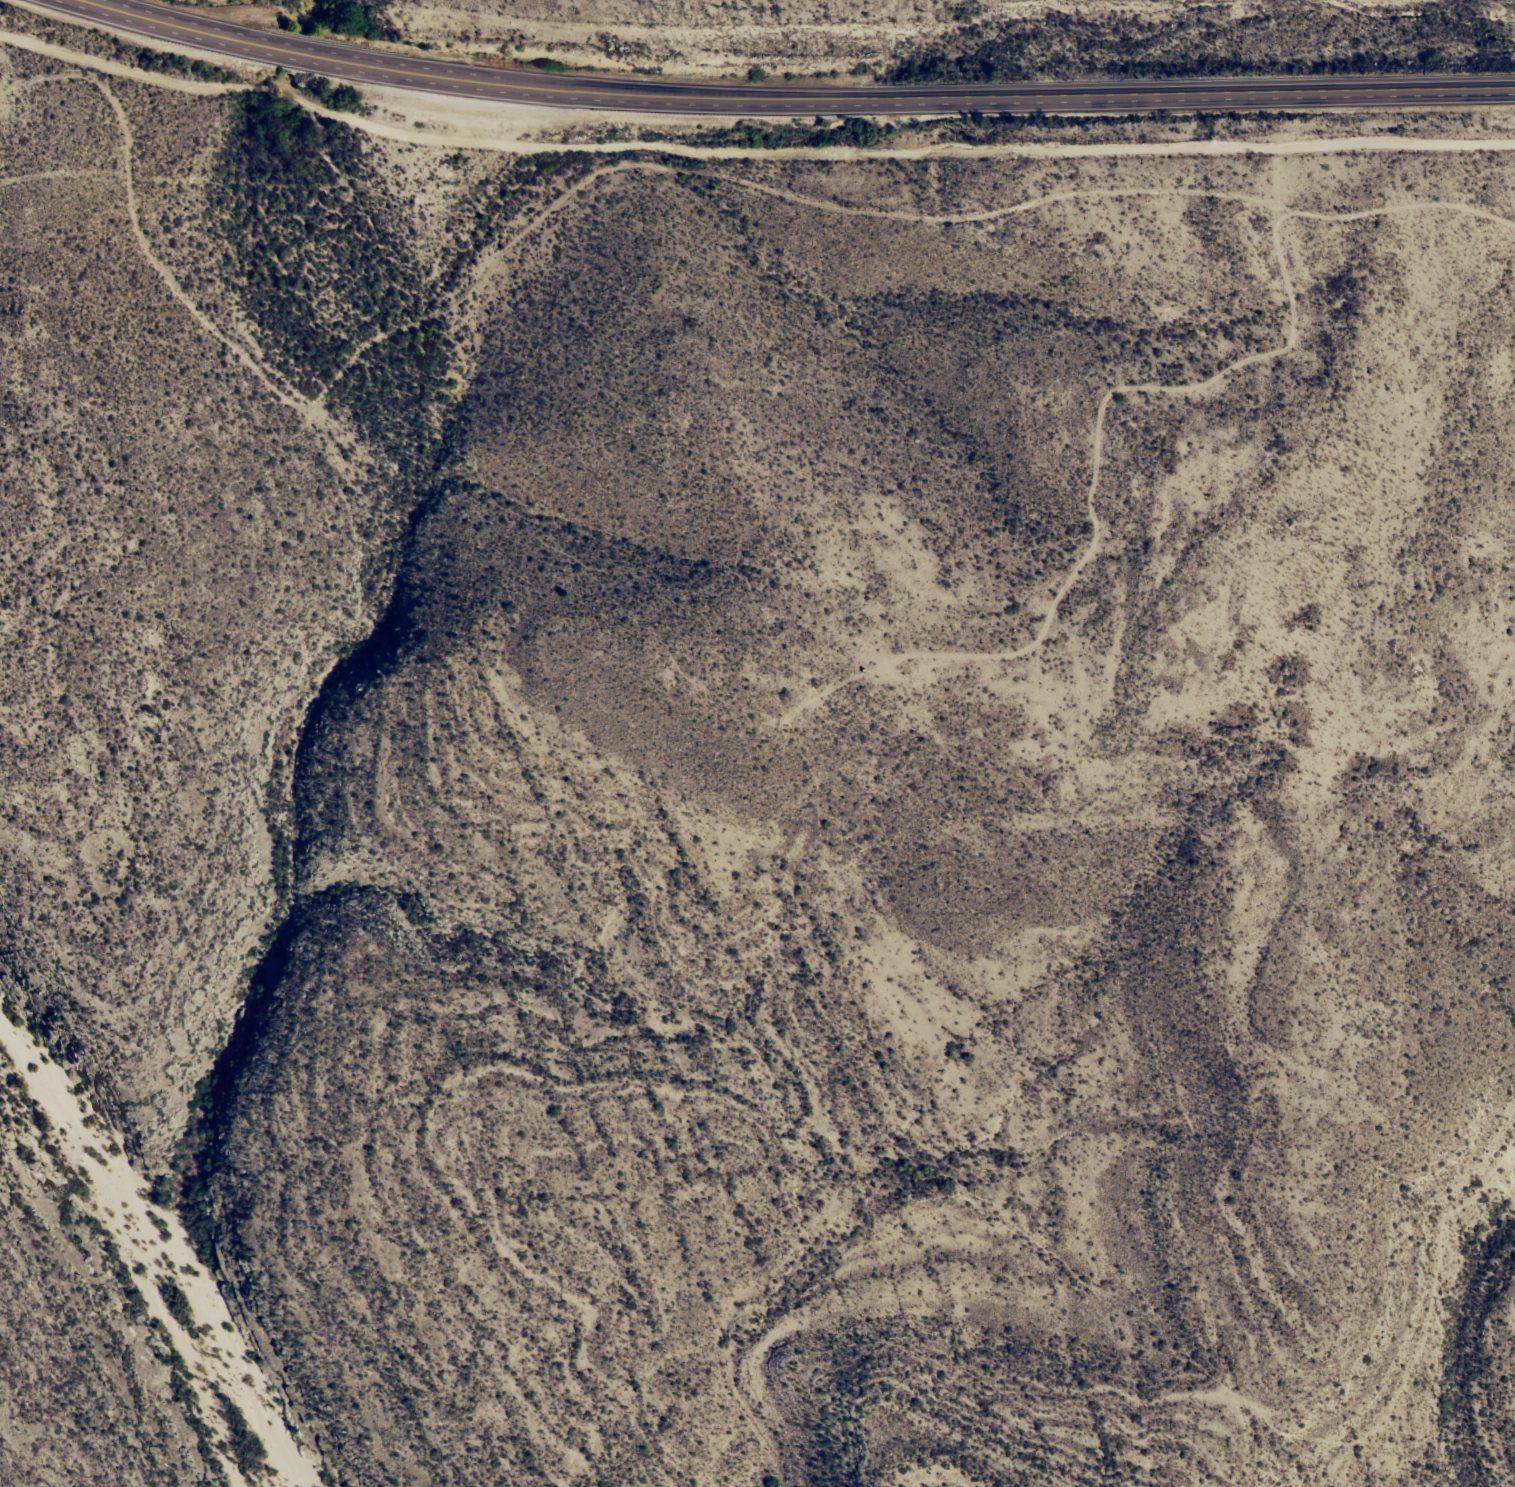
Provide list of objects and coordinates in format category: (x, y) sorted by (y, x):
road: (799, 101)
road: (654, 190)

